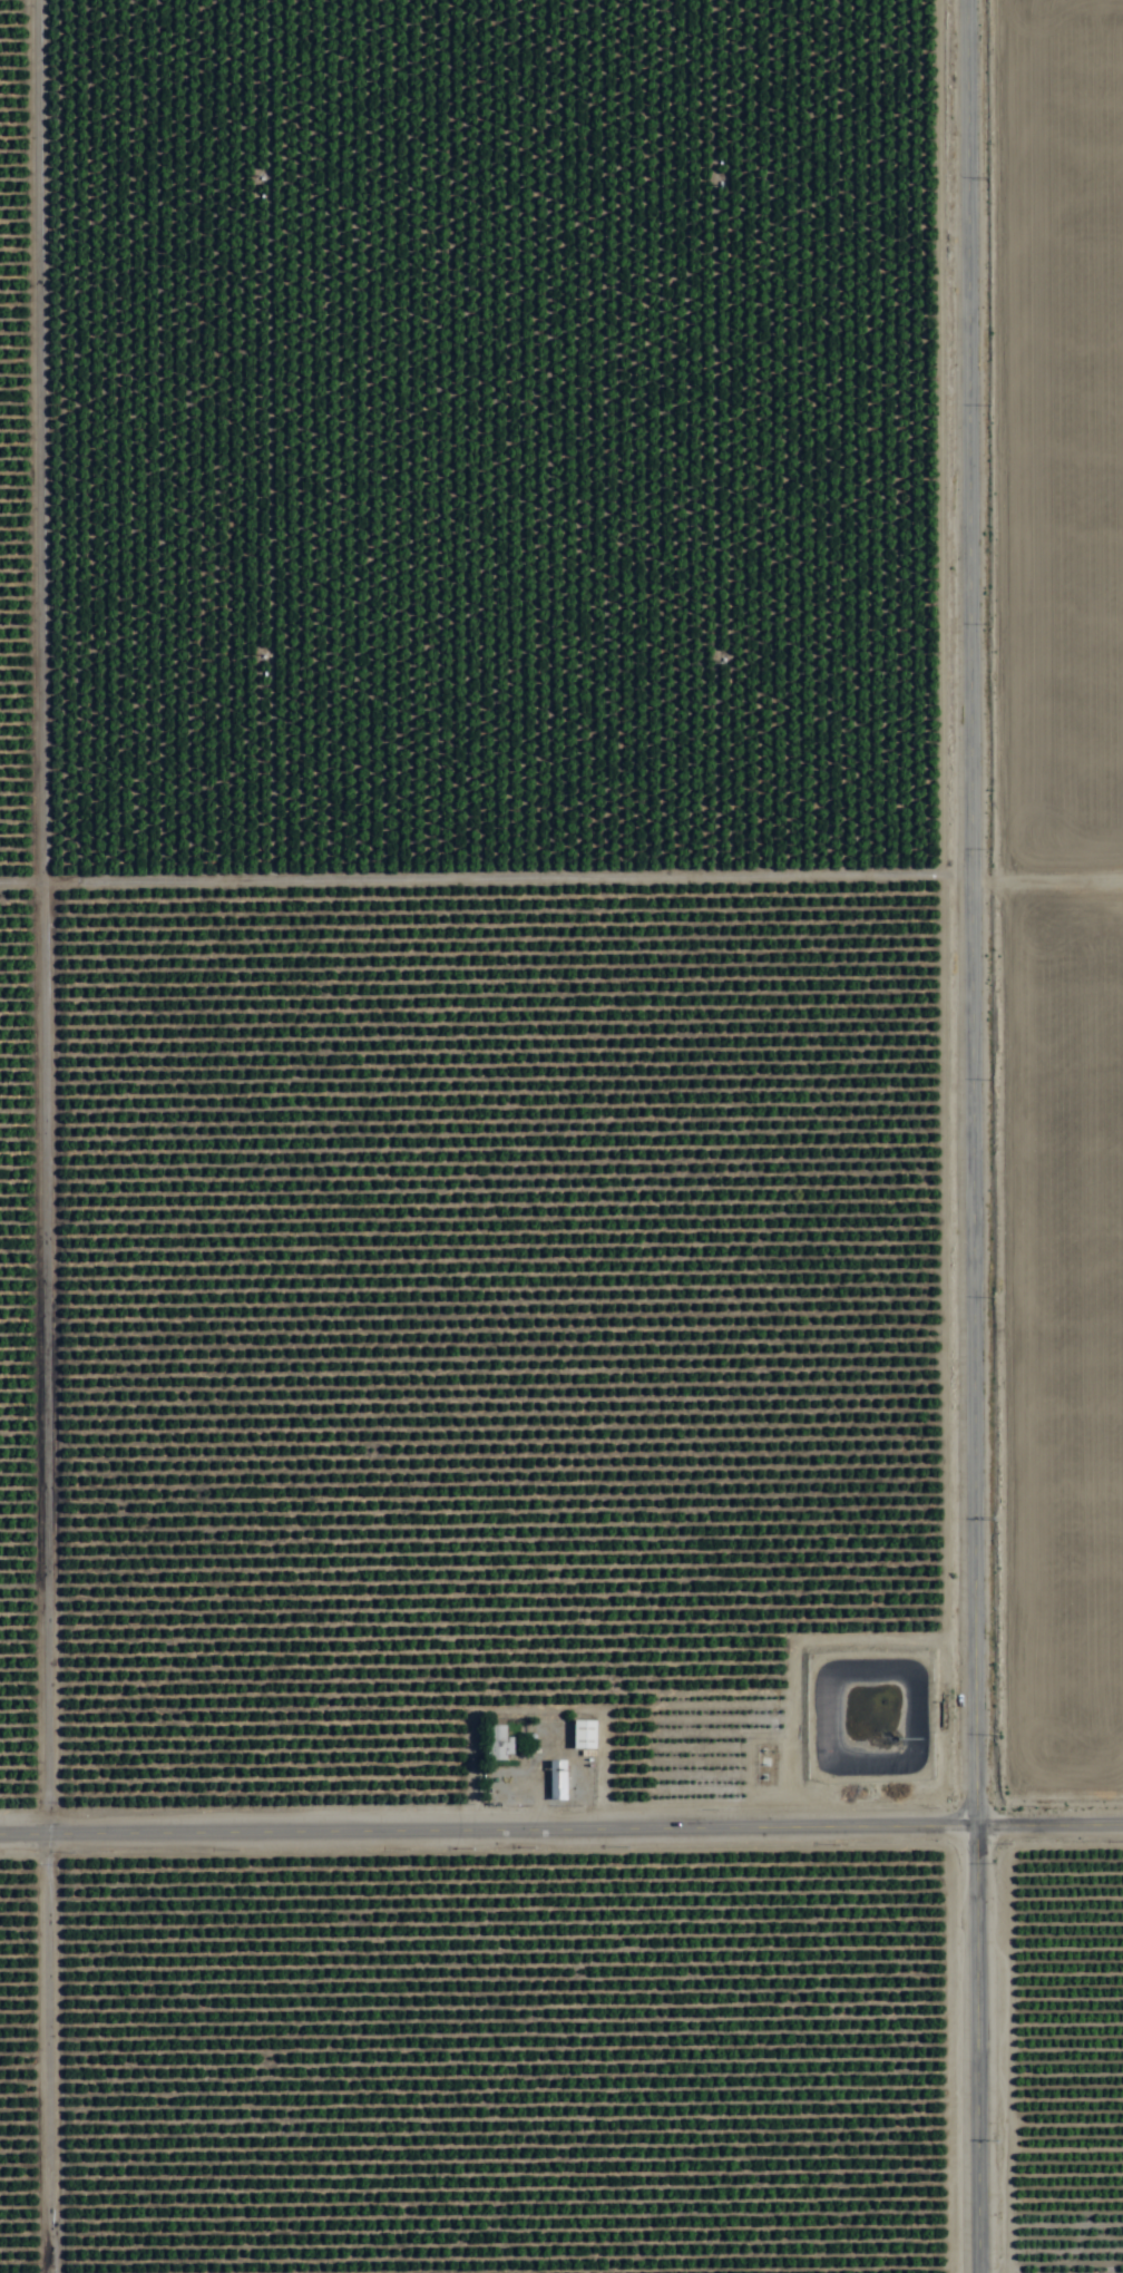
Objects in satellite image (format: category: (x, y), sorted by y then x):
crop: (561, 1136)
road: (975, 1136)
wastewater plant: (872, 1714)
building: (583, 1735)
building: (495, 1743)
building: (557, 1781)
road: (560, 1809)
building: (713, 2009)
building: (442, 2149)
building: (136, 2160)
building: (642, 2211)
building: (165, 2226)
building: (457, 2264)

